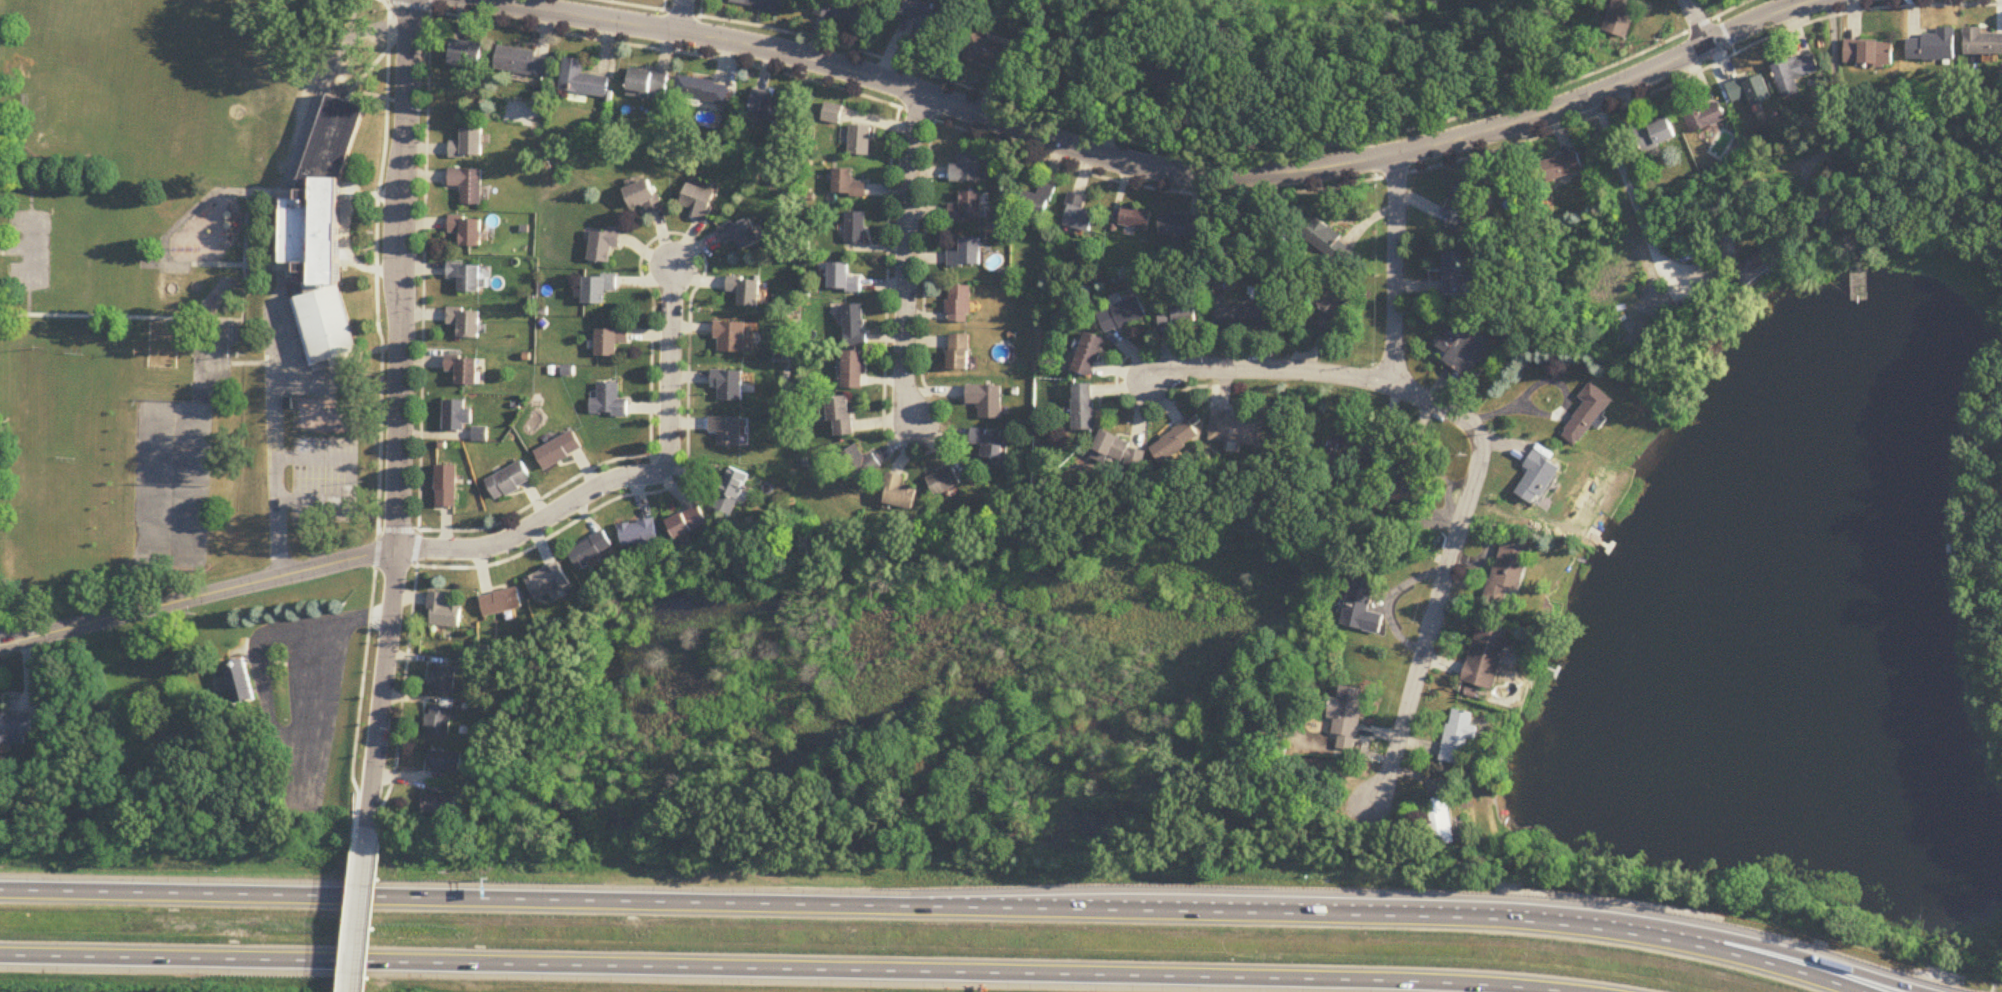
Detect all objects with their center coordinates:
building: (761, 5)
building: (844, 11)
road: (1845, 14)
road: (684, 16)
building: (920, 16)
road: (1717, 16)
building: (1620, 18)
road: (1698, 22)
building: (1982, 43)
building: (1933, 47)
road: (1690, 53)
building: (1869, 54)
building: (990, 55)
building: (467, 56)
building: (523, 63)
road: (328, 71)
building: (1794, 75)
building: (1169, 78)
building: (582, 80)
building: (648, 85)
building: (703, 91)
building: (1750, 91)
road: (1835, 95)
building: (766, 108)
building: (833, 114)
building: (1702, 116)
building: (1655, 135)
building: (860, 142)
building: (470, 145)
road: (1150, 168)
building: (1563, 168)
building: (967, 169)
building: (848, 185)
building: (470, 187)
building: (645, 198)
road: (1629, 200)
building: (1038, 202)
building: (701, 203)
building: (1465, 205)
building: (968, 209)
building: (1079, 215)
building: (1136, 220)
building: (1182, 227)
building: (856, 229)
building: (469, 232)
building: (323, 234)
building: (742, 235)
building: (1329, 242)
building: (606, 245)
building: (967, 255)
road: (902, 259)
road: (1396, 269)
building: (1759, 270)
building: (468, 278)
building: (1457, 278)
building: (843, 280)
building: (180, 286)
building: (601, 290)
building: (748, 292)
building: (959, 305)
building: (1330, 312)
building: (1240, 314)
building: (1181, 316)
building: (1124, 317)
building: (467, 324)
building: (855, 326)
building: (737, 339)
building: (614, 342)
building: (1464, 347)
building: (959, 353)
building: (1090, 357)
road: (1274, 367)
building: (853, 370)
building: (465, 371)
building: (732, 386)
building: (986, 401)
building: (612, 403)
building: (1085, 408)
road: (1556, 414)
building: (1587, 414)
building: (841, 416)
building: (459, 417)
road: (399, 423)
building: (1235, 429)
building: (730, 432)
building: (1176, 441)
building: (1347, 442)
road: (278, 443)
building: (989, 443)
building: (1372, 449)
building: (1121, 450)
building: (561, 451)
building: (861, 463)
building: (1539, 473)
building: (1409, 477)
road: (352, 478)
road: (625, 479)
building: (945, 481)
building: (510, 482)
building: (447, 487)
building: (732, 491)
building: (900, 492)
building: (689, 522)
building: (640, 532)
building: (591, 550)
building: (1510, 570)
road: (1447, 575)
building: (548, 579)
road: (198, 598)
building: (502, 602)
building: (1360, 608)
building: (444, 612)
building: (1487, 656)
road: (330, 676)
building: (444, 680)
building: (240, 681)
building: (1347, 717)
building: (440, 721)
building: (15, 729)
building: (1459, 736)
building: (446, 761)
building: (441, 805)
building: (1442, 822)
road: (934, 908)
road: (362, 918)
road: (1799, 967)
road: (792, 970)

